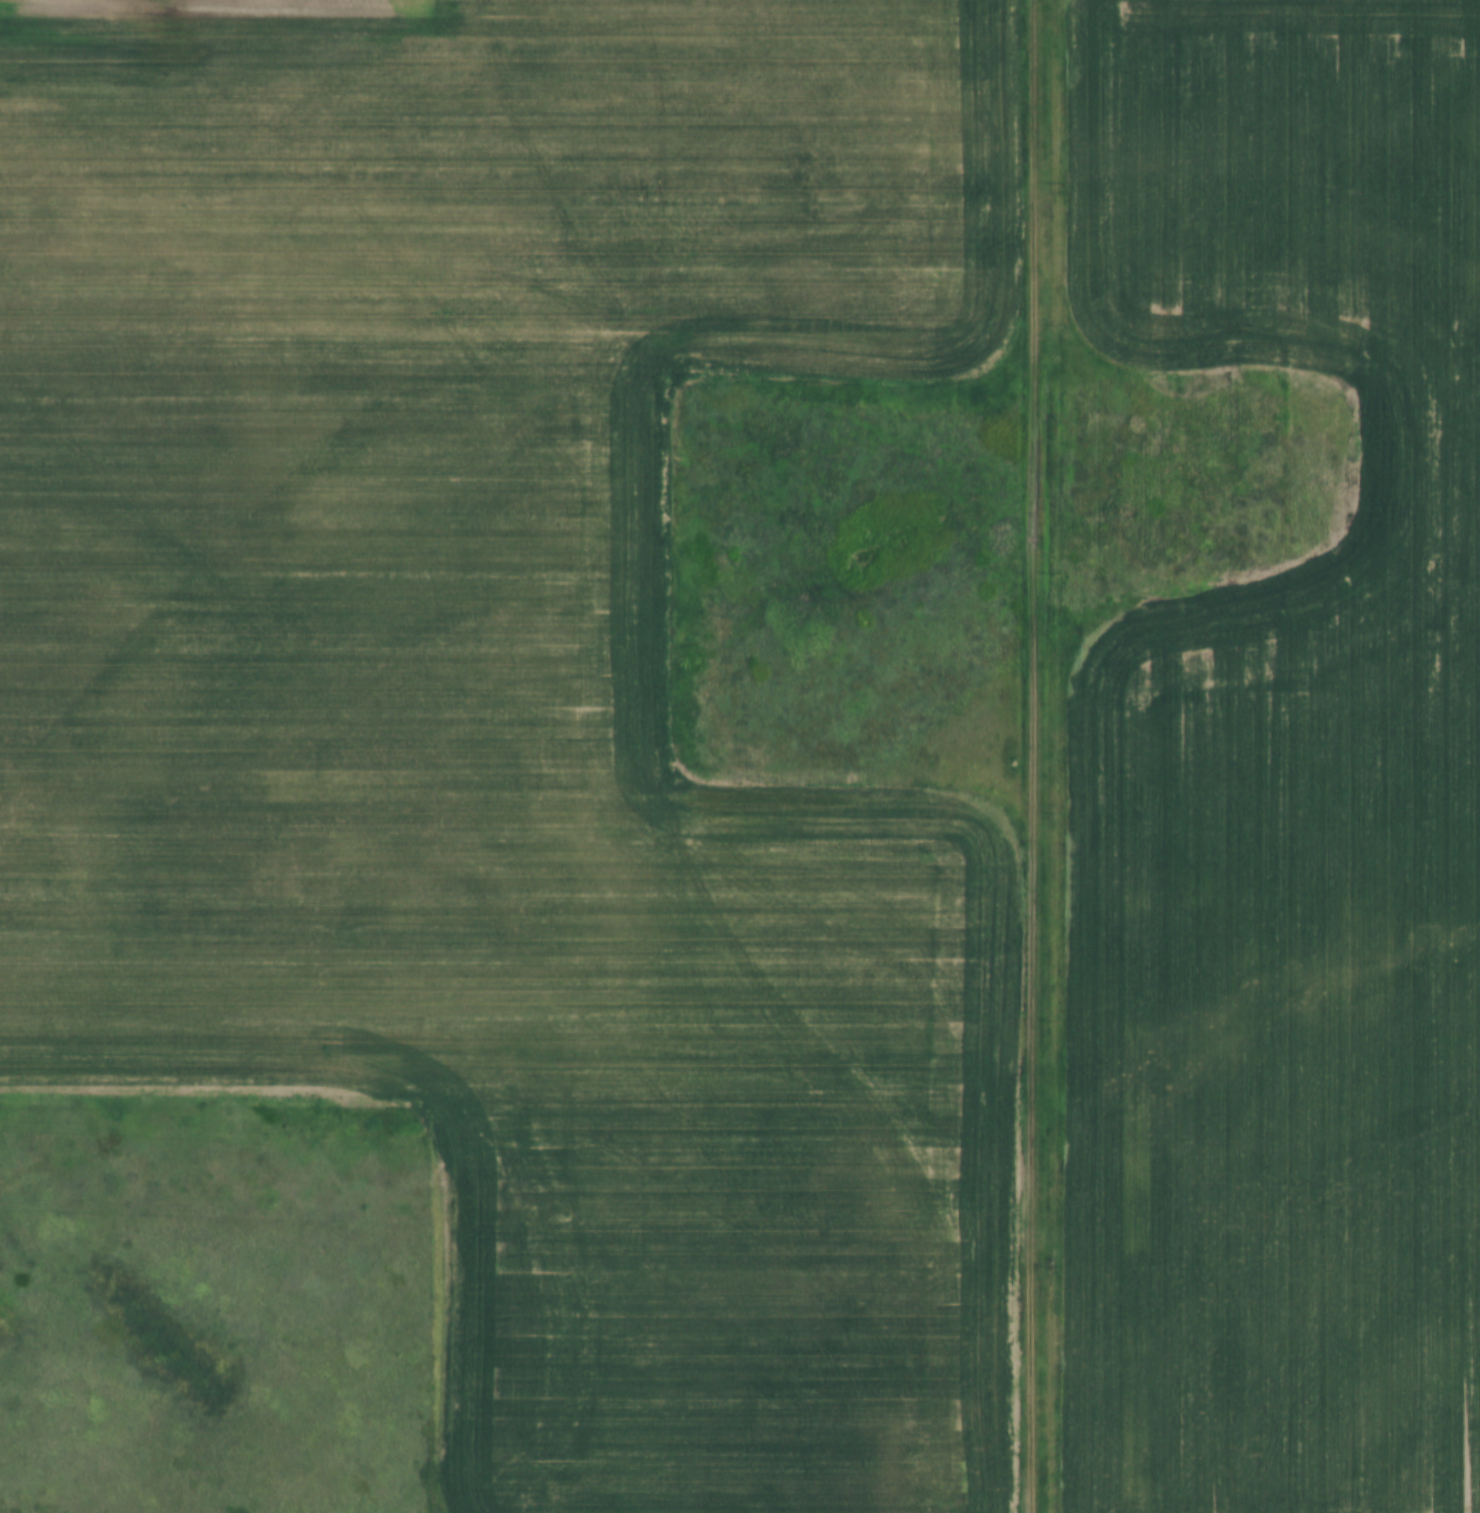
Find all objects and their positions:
road: (1024, 756)

